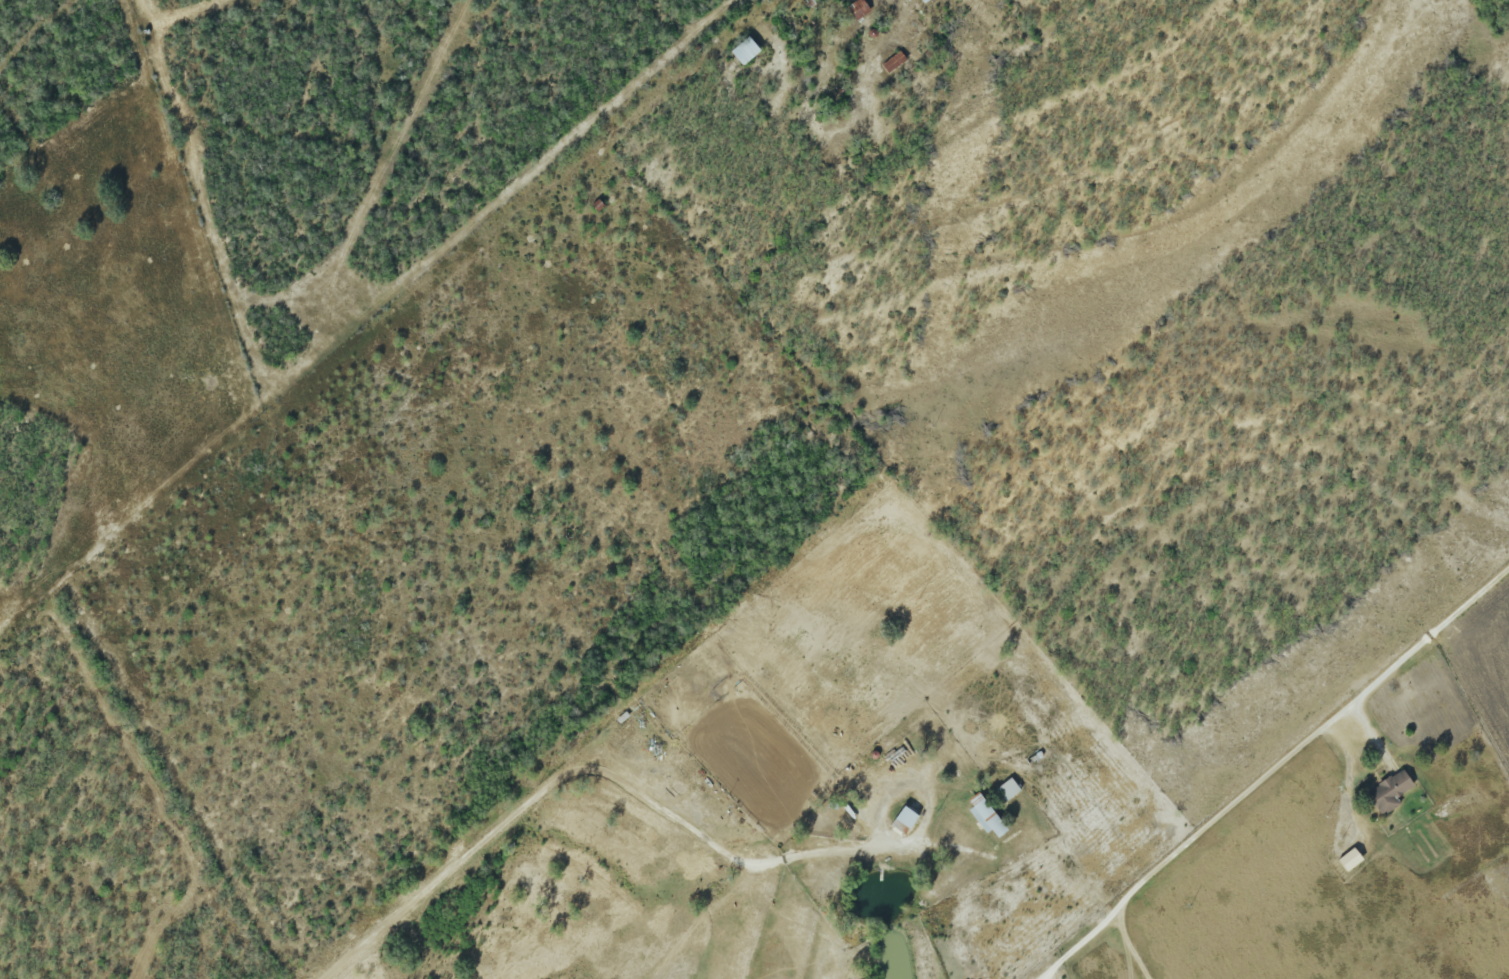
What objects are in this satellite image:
building: (745, 52)
road: (1282, 759)
road: (582, 774)
building: (1007, 790)
building: (1389, 792)
building: (985, 816)
building: (1350, 860)
road: (1082, 940)

